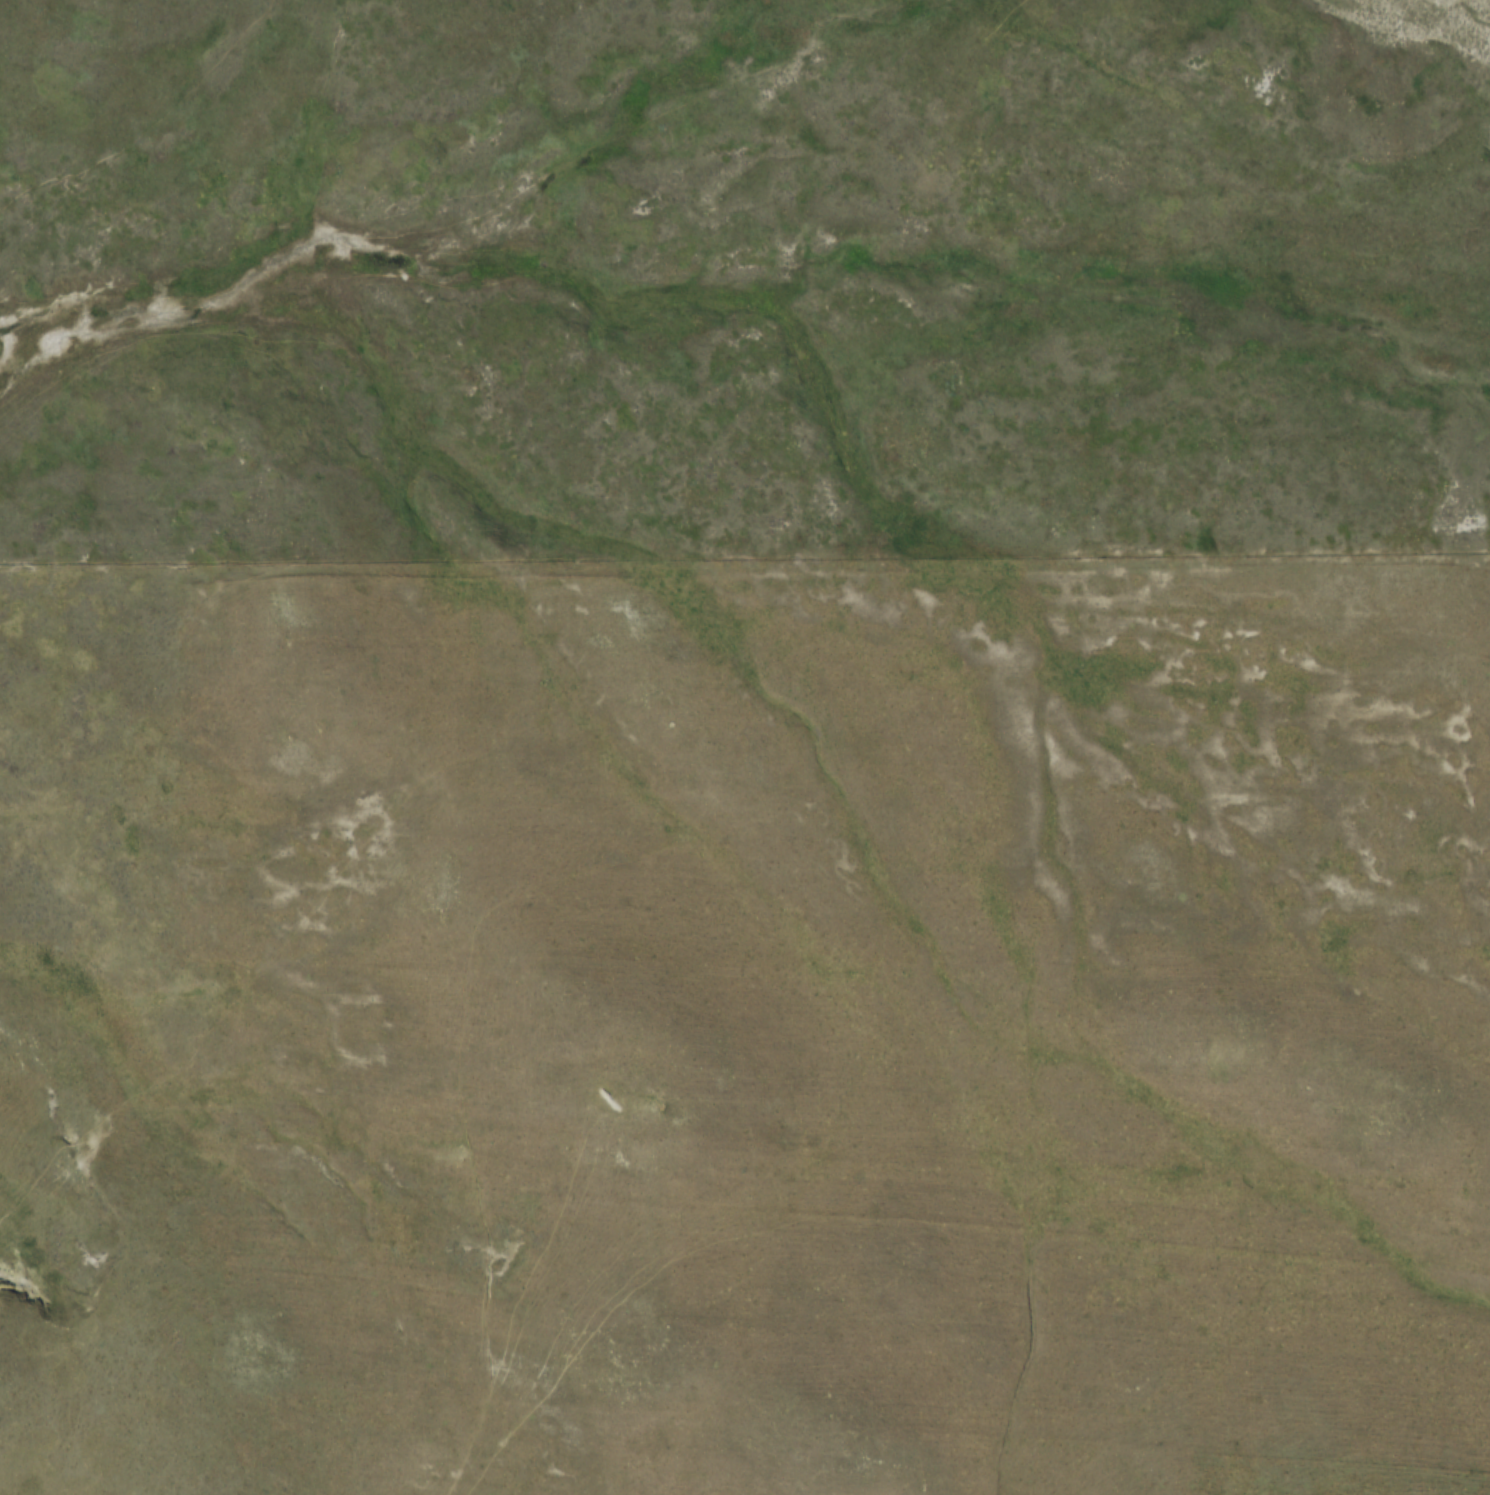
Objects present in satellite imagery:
road: (1258, 1329)

